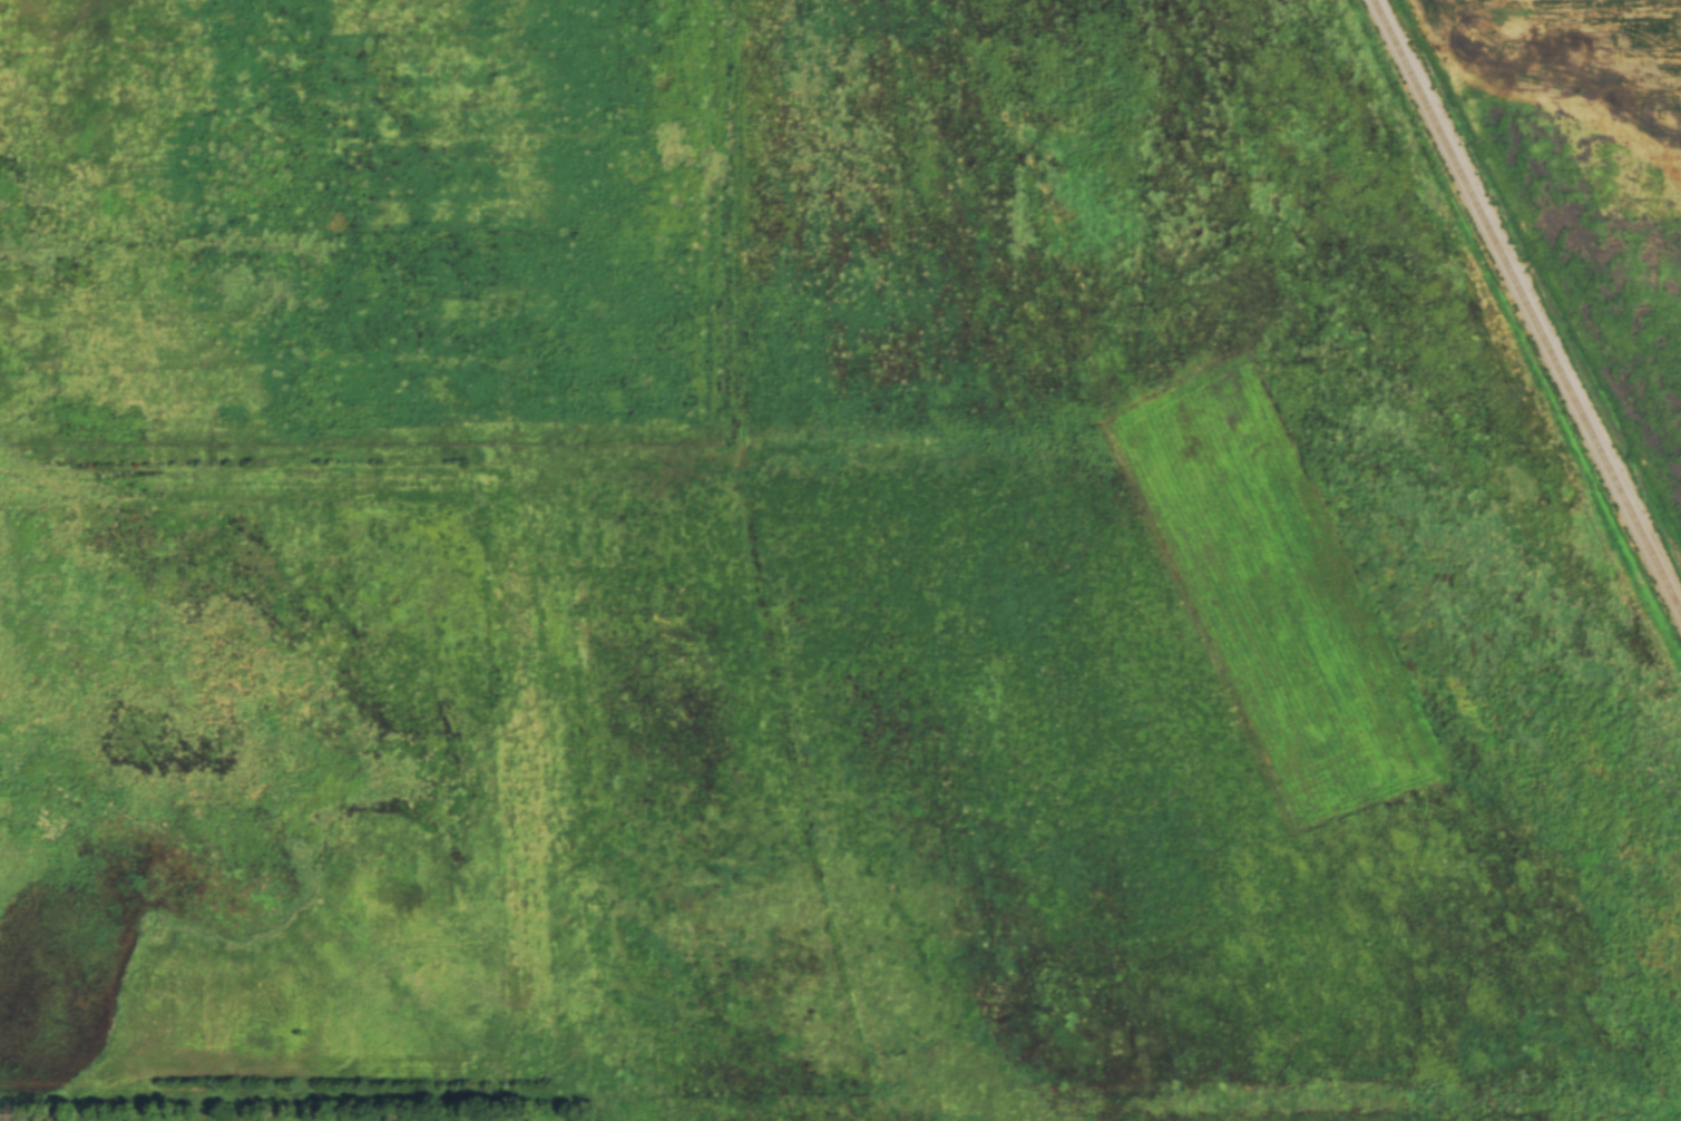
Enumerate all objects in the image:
railway: (1525, 311)

